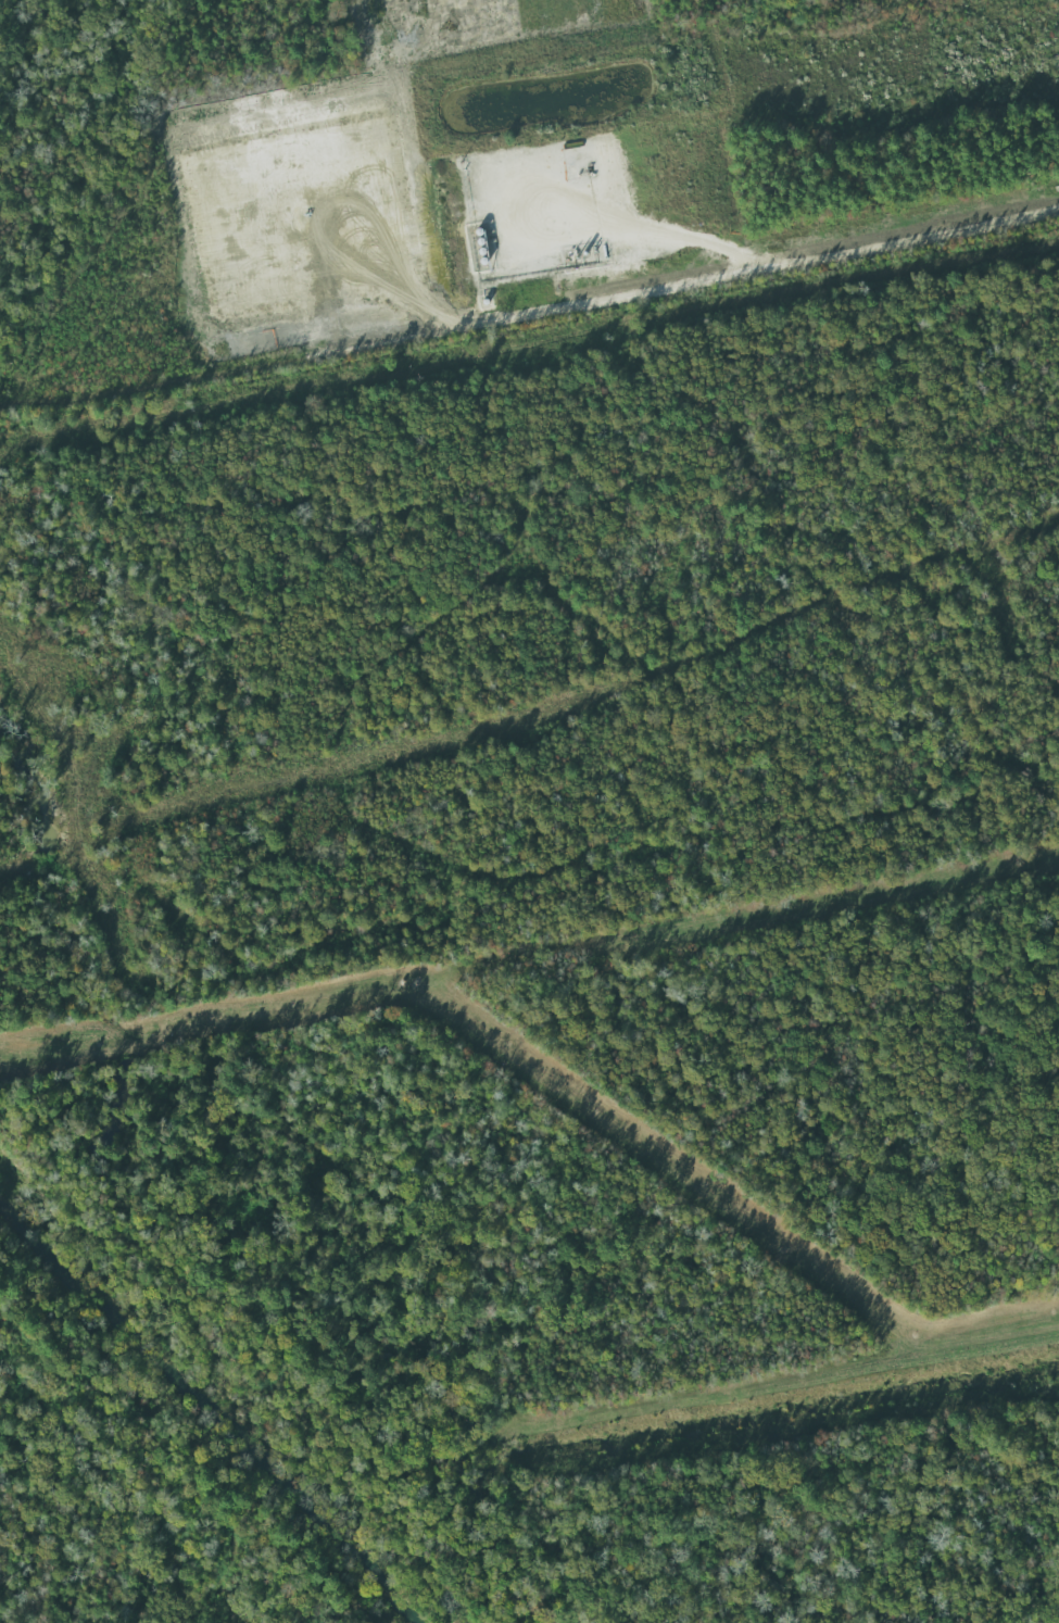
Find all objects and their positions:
road: (844, 243)

